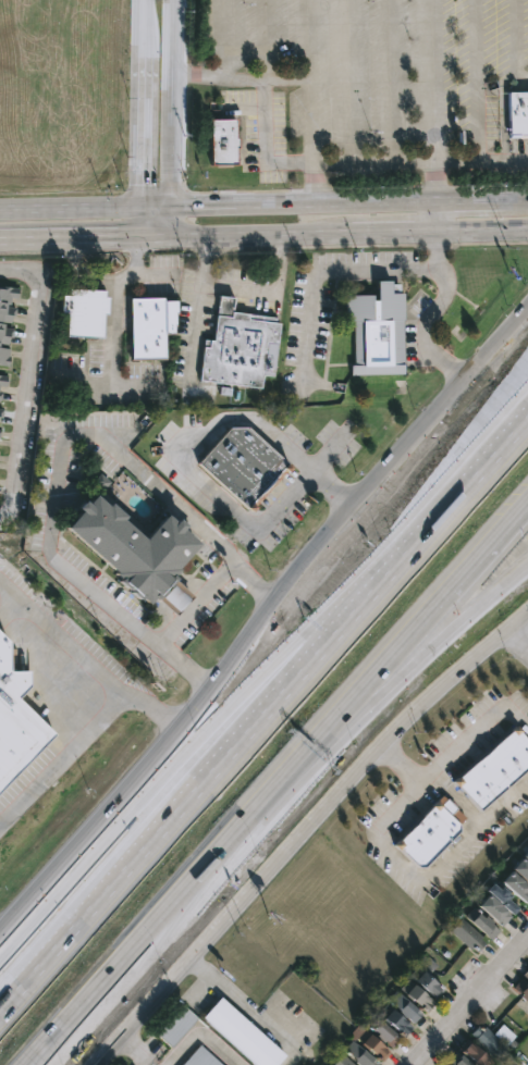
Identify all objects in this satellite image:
road: (517, 44)
road: (197, 76)
road: (292, 78)
road: (441, 101)
road: (169, 103)
building: (518, 113)
road: (139, 117)
building: (222, 141)
road: (261, 144)
road: (484, 161)
traffic signals: (138, 188)
road: (514, 202)
road: (463, 203)
road: (297, 206)
road: (69, 208)
road: (152, 208)
traffic signals: (182, 208)
road: (429, 218)
road: (168, 221)
road: (479, 231)
road: (388, 232)
road: (257, 233)
traffic signals: (116, 235)
road: (152, 235)
road: (67, 236)
road: (432, 250)
traffic signals: (137, 256)
road: (77, 273)
road: (17, 274)
road: (149, 277)
parking lot: (163, 277)
road: (316, 281)
road: (245, 289)
building: (84, 311)
building: (5, 320)
road: (113, 326)
building: (150, 326)
building: (378, 330)
road: (422, 334)
road: (196, 336)
building: (236, 345)
road: (479, 373)
building: (2, 381)
building: (0, 395)
road: (28, 398)
building: (1, 412)
building: (0, 428)
road: (198, 441)
road: (330, 454)
building: (243, 463)
road: (59, 466)
road: (4, 515)
building: (135, 550)
road: (198, 605)
road: (437, 609)
road: (514, 624)
road: (438, 642)
road: (514, 649)
road: (93, 653)
road: (257, 682)
road: (219, 692)
building: (15, 713)
road: (262, 718)
road: (472, 730)
road: (64, 756)
building: (494, 770)
building: (429, 834)
road: (295, 845)
building: (526, 856)
building: (521, 869)
road: (410, 871)
building: (516, 887)
road: (196, 889)
building: (502, 897)
building: (494, 912)
building: (482, 924)
building: (468, 936)
road: (3, 938)
building: (526, 976)
building: (428, 978)
building: (521, 989)
road: (472, 1005)
building: (405, 1007)
road: (243, 1008)
building: (176, 1027)
building: (242, 1035)
building: (385, 1035)
road: (202, 1036)
building: (493, 1039)
building: (370, 1044)
road: (142, 1049)
building: (359, 1055)
building: (475, 1056)
building: (201, 1058)
building: (456, 1060)
building: (343, 1061)
building: (446, 1064)

